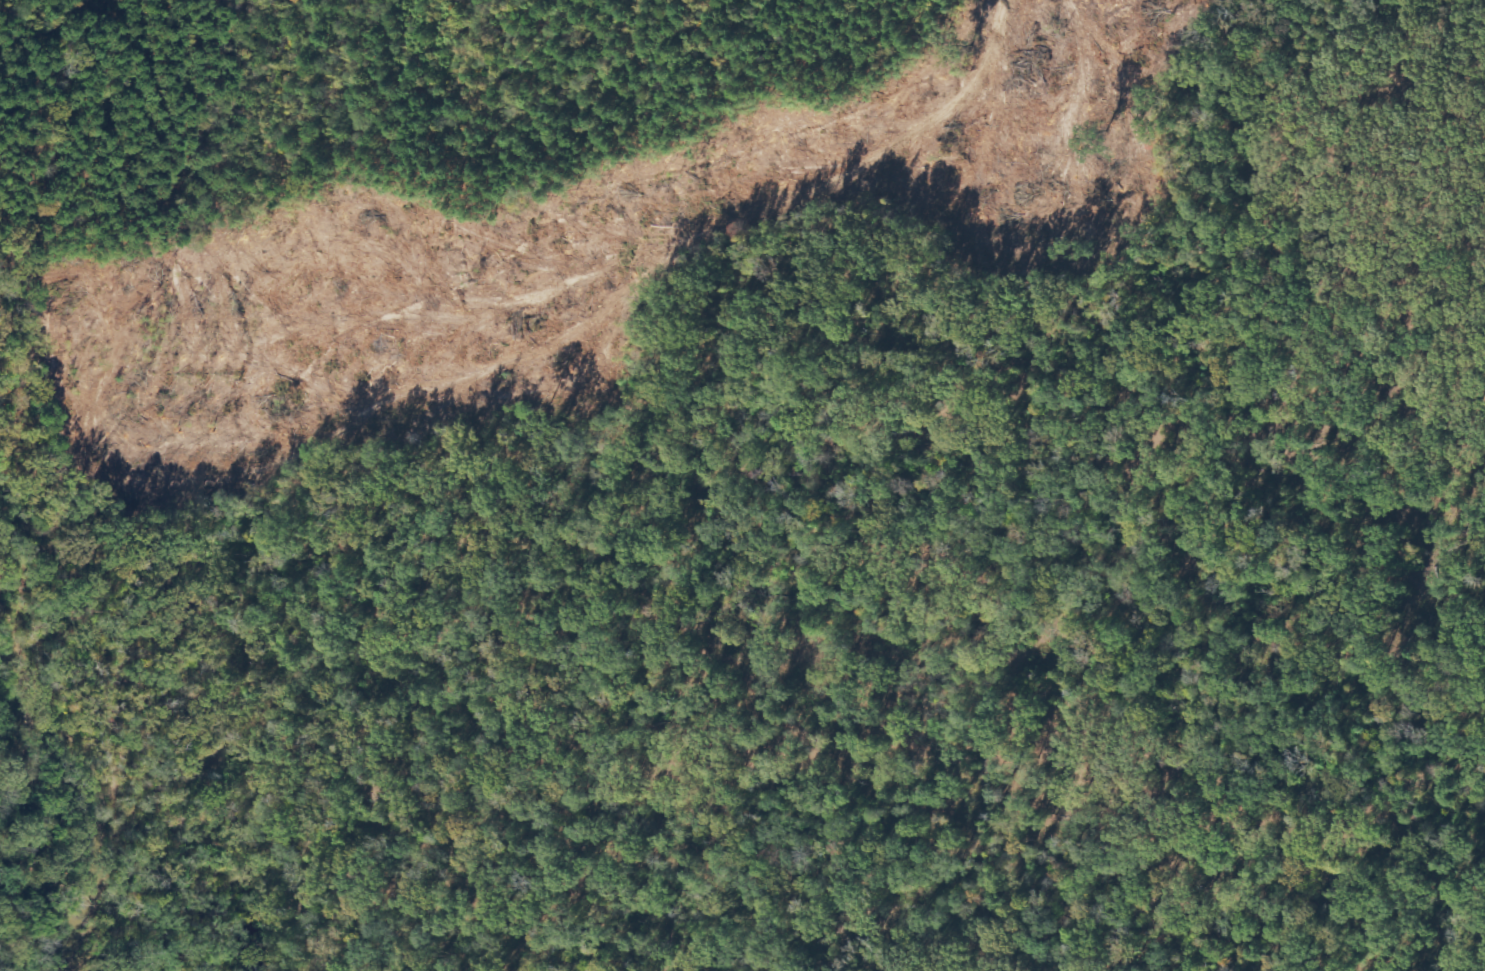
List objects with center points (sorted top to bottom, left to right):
river: (82, 791)

